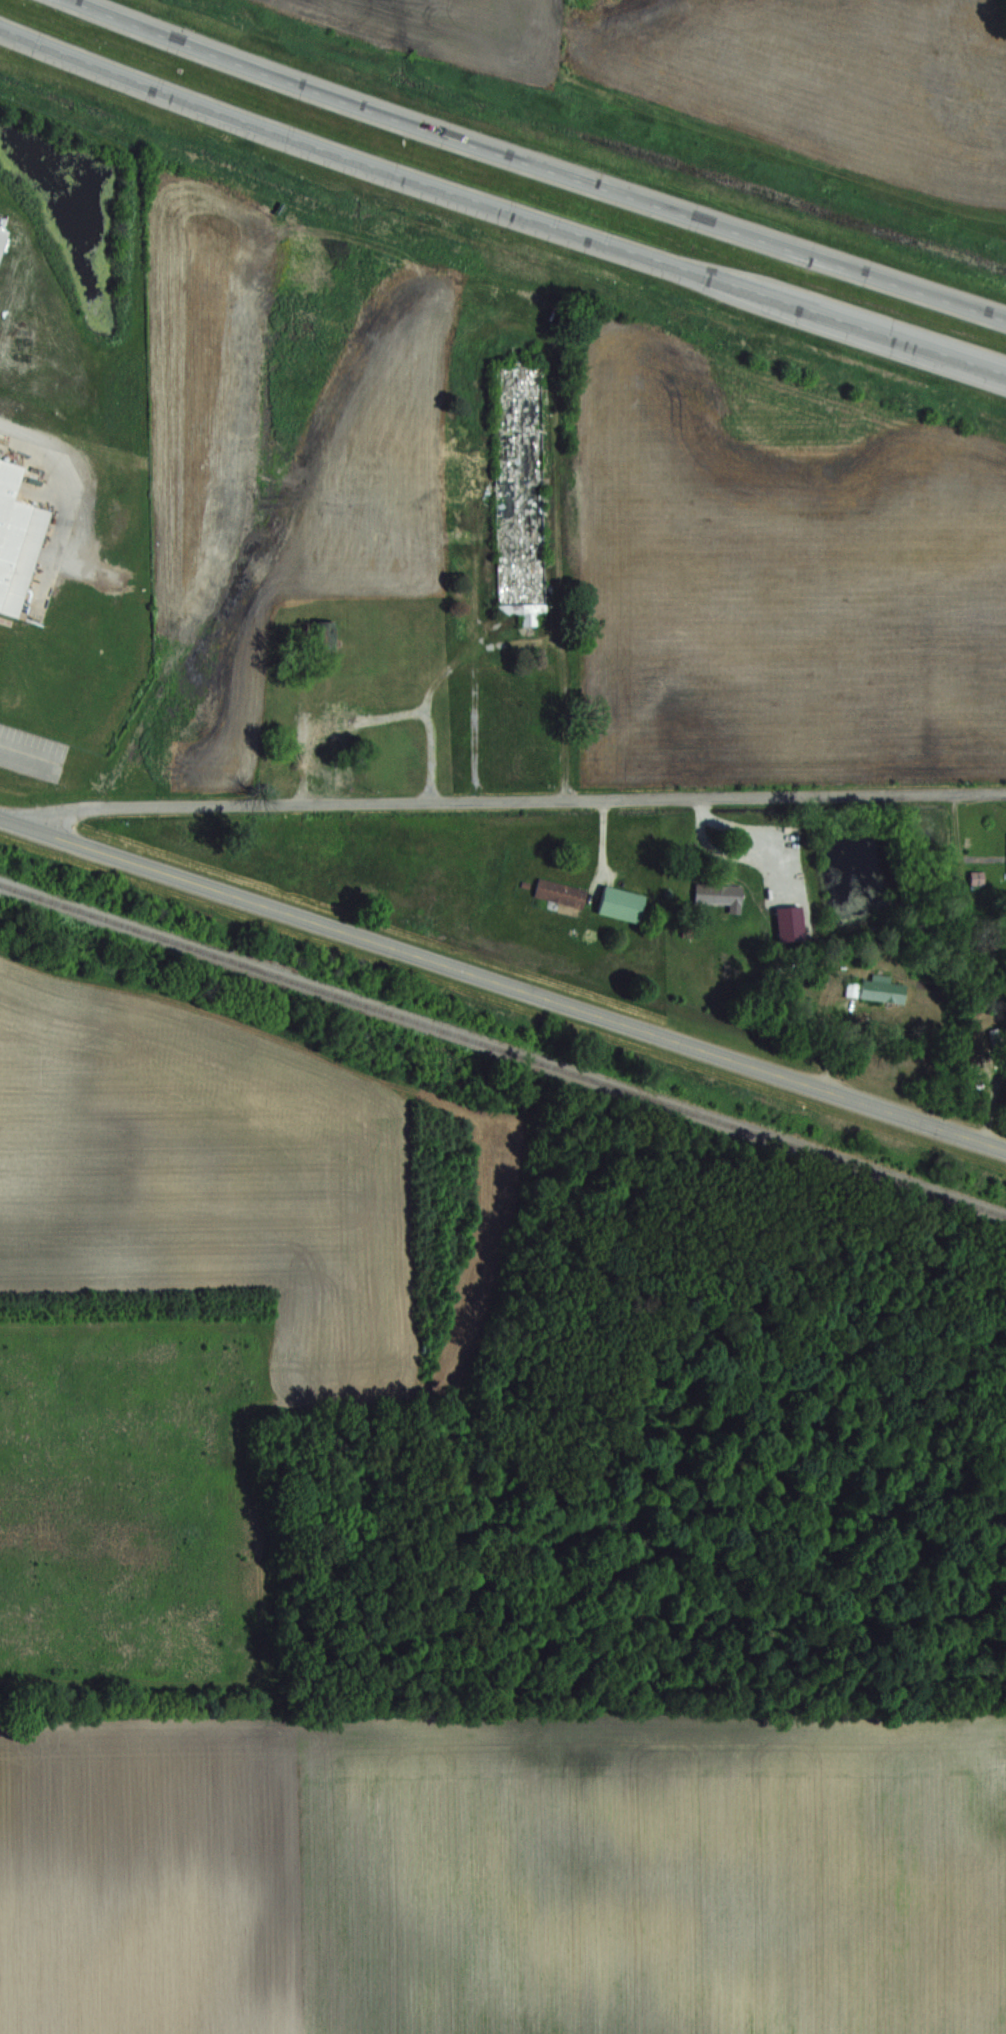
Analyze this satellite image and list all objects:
road: (536, 165)
road: (500, 206)
road: (26, 421)
building: (3, 474)
building: (517, 486)
building: (15, 547)
building: (322, 637)
building: (327, 737)
road: (18, 746)
road: (515, 799)
building: (556, 891)
building: (714, 891)
building: (616, 902)
road: (502, 981)
building: (877, 990)
railway: (502, 1049)

